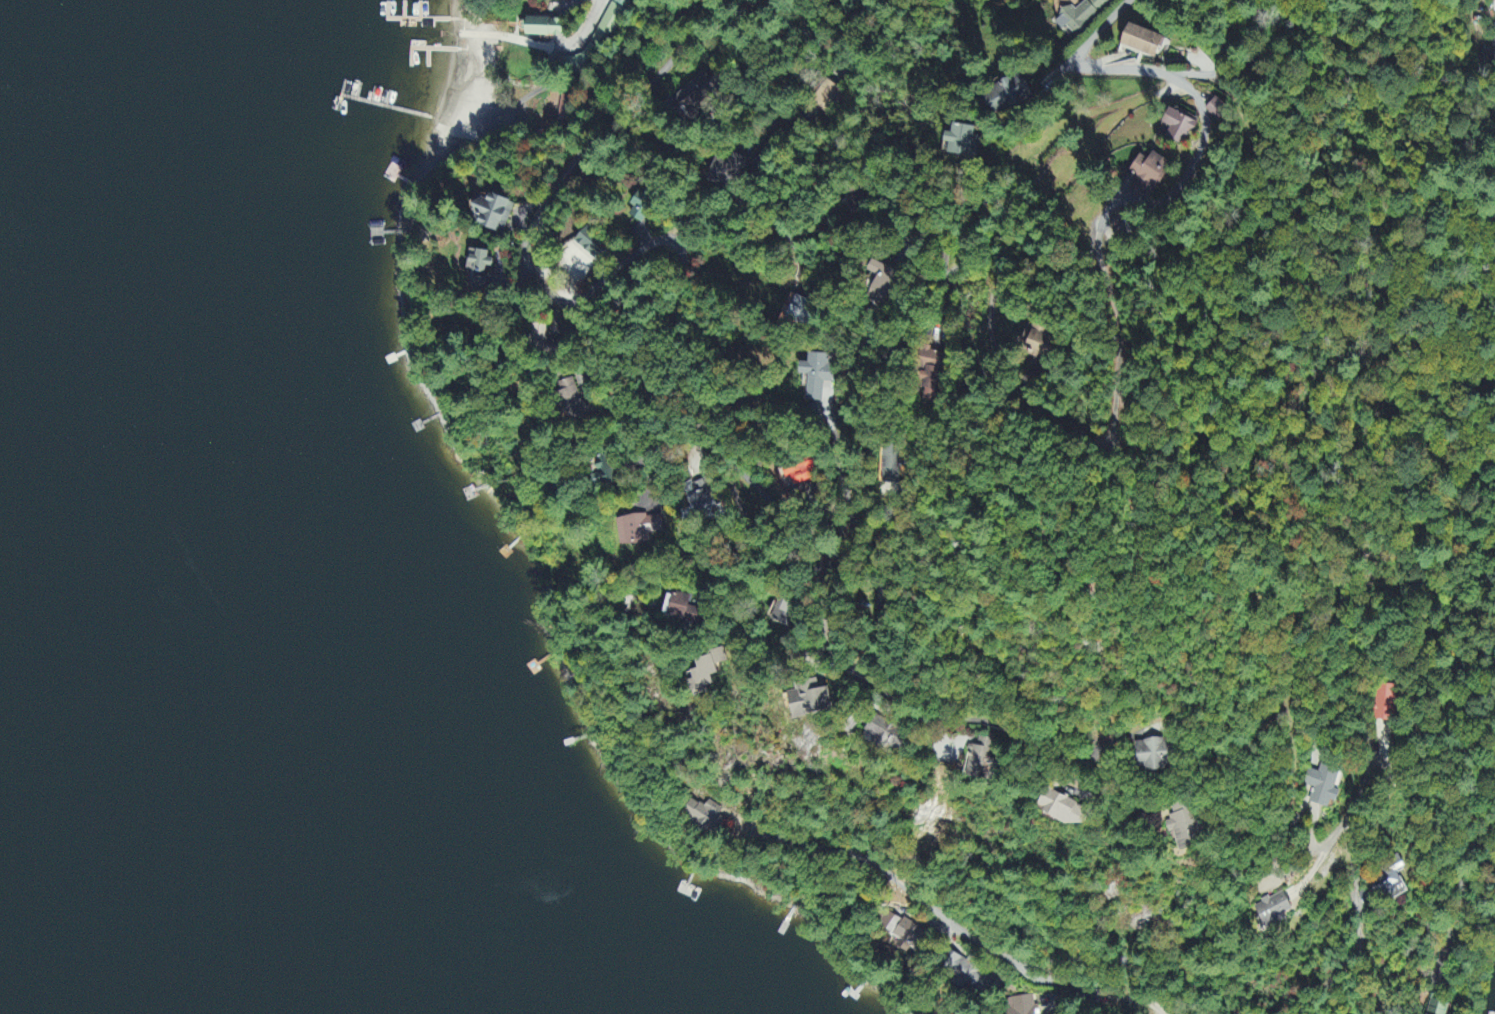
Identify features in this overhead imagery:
building: (1081, 16)
building: (546, 29)
road: (1099, 30)
building: (1143, 43)
road: (797, 62)
building: (700, 96)
building: (826, 96)
building: (1008, 96)
building: (1218, 111)
building: (1180, 128)
building: (962, 141)
building: (728, 172)
building: (1151, 173)
building: (642, 206)
building: (493, 213)
building: (592, 245)
building: (479, 266)
building: (882, 280)
building: (796, 310)
building: (540, 337)
road: (673, 339)
building: (1038, 340)
building: (817, 376)
building: (931, 377)
building: (569, 394)
building: (892, 466)
building: (798, 475)
building: (702, 495)
building: (638, 529)
river: (317, 574)
building: (681, 609)
building: (781, 611)
building: (707, 670)
building: (809, 699)
building: (1383, 704)
road: (907, 712)
building: (887, 734)
building: (1154, 755)
building: (980, 760)
building: (1323, 787)
building: (1064, 810)
building: (702, 813)
building: (1182, 827)
road: (1374, 844)
building: (1381, 890)
building: (1275, 909)
road: (1432, 919)
building: (910, 936)
road: (980, 945)
building: (965, 972)
road: (1089, 987)
building: (1024, 1005)
building: (1438, 1008)

